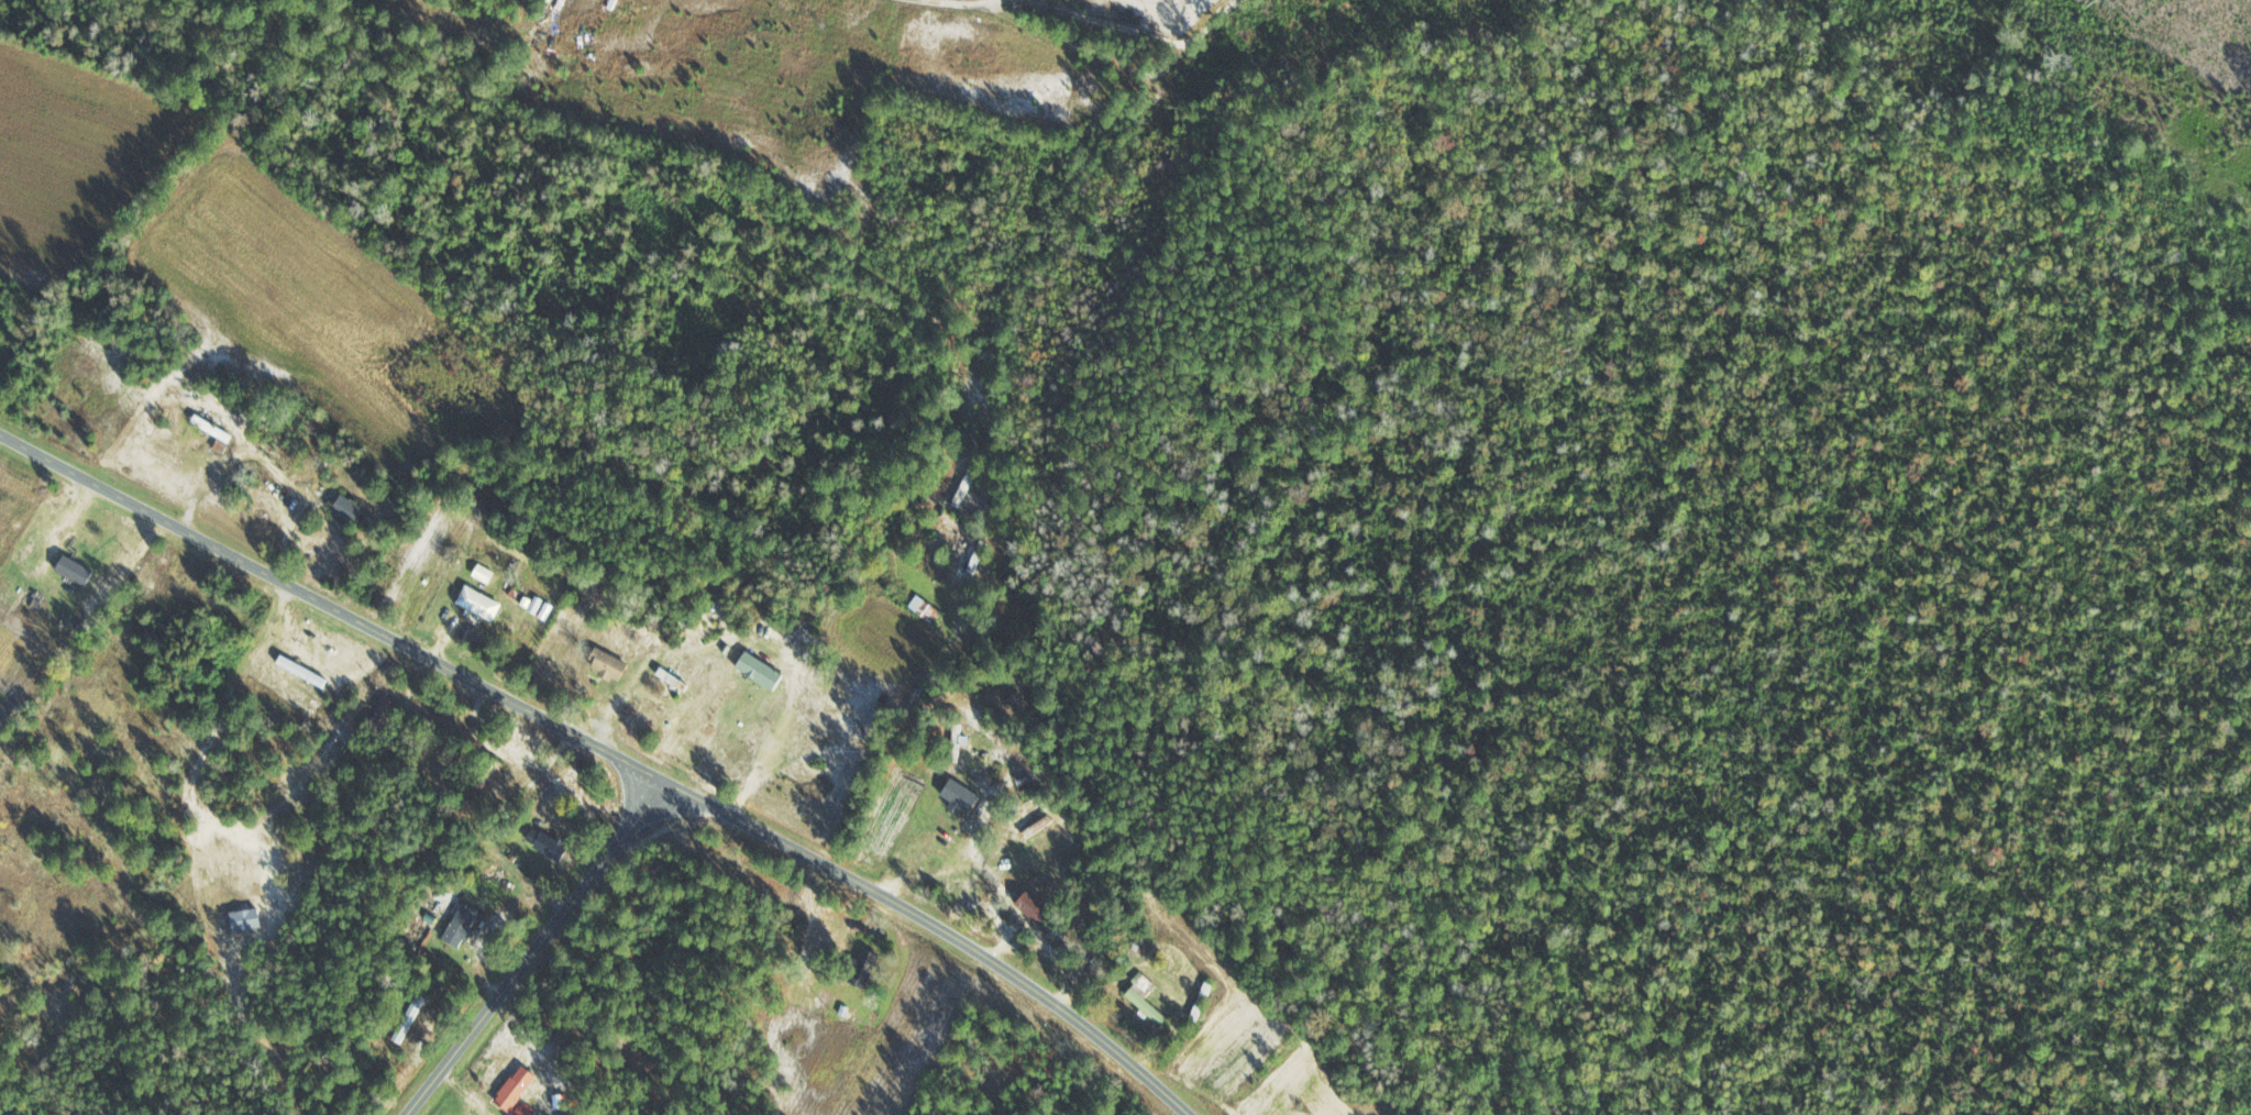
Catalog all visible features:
road: (1028, 177)
road: (934, 356)
building: (349, 509)
building: (960, 526)
building: (978, 560)
building: (75, 571)
building: (484, 574)
building: (481, 604)
building: (925, 609)
building: (608, 665)
building: (760, 670)
building: (1020, 703)
building: (385, 714)
building: (957, 742)
road: (596, 764)
building: (961, 797)
building: (548, 844)
building: (1045, 917)
building: (246, 919)
building: (462, 925)
road: (536, 949)
building: (863, 968)
building: (1146, 998)
building: (1202, 1002)
building: (409, 1018)
building: (516, 1089)

